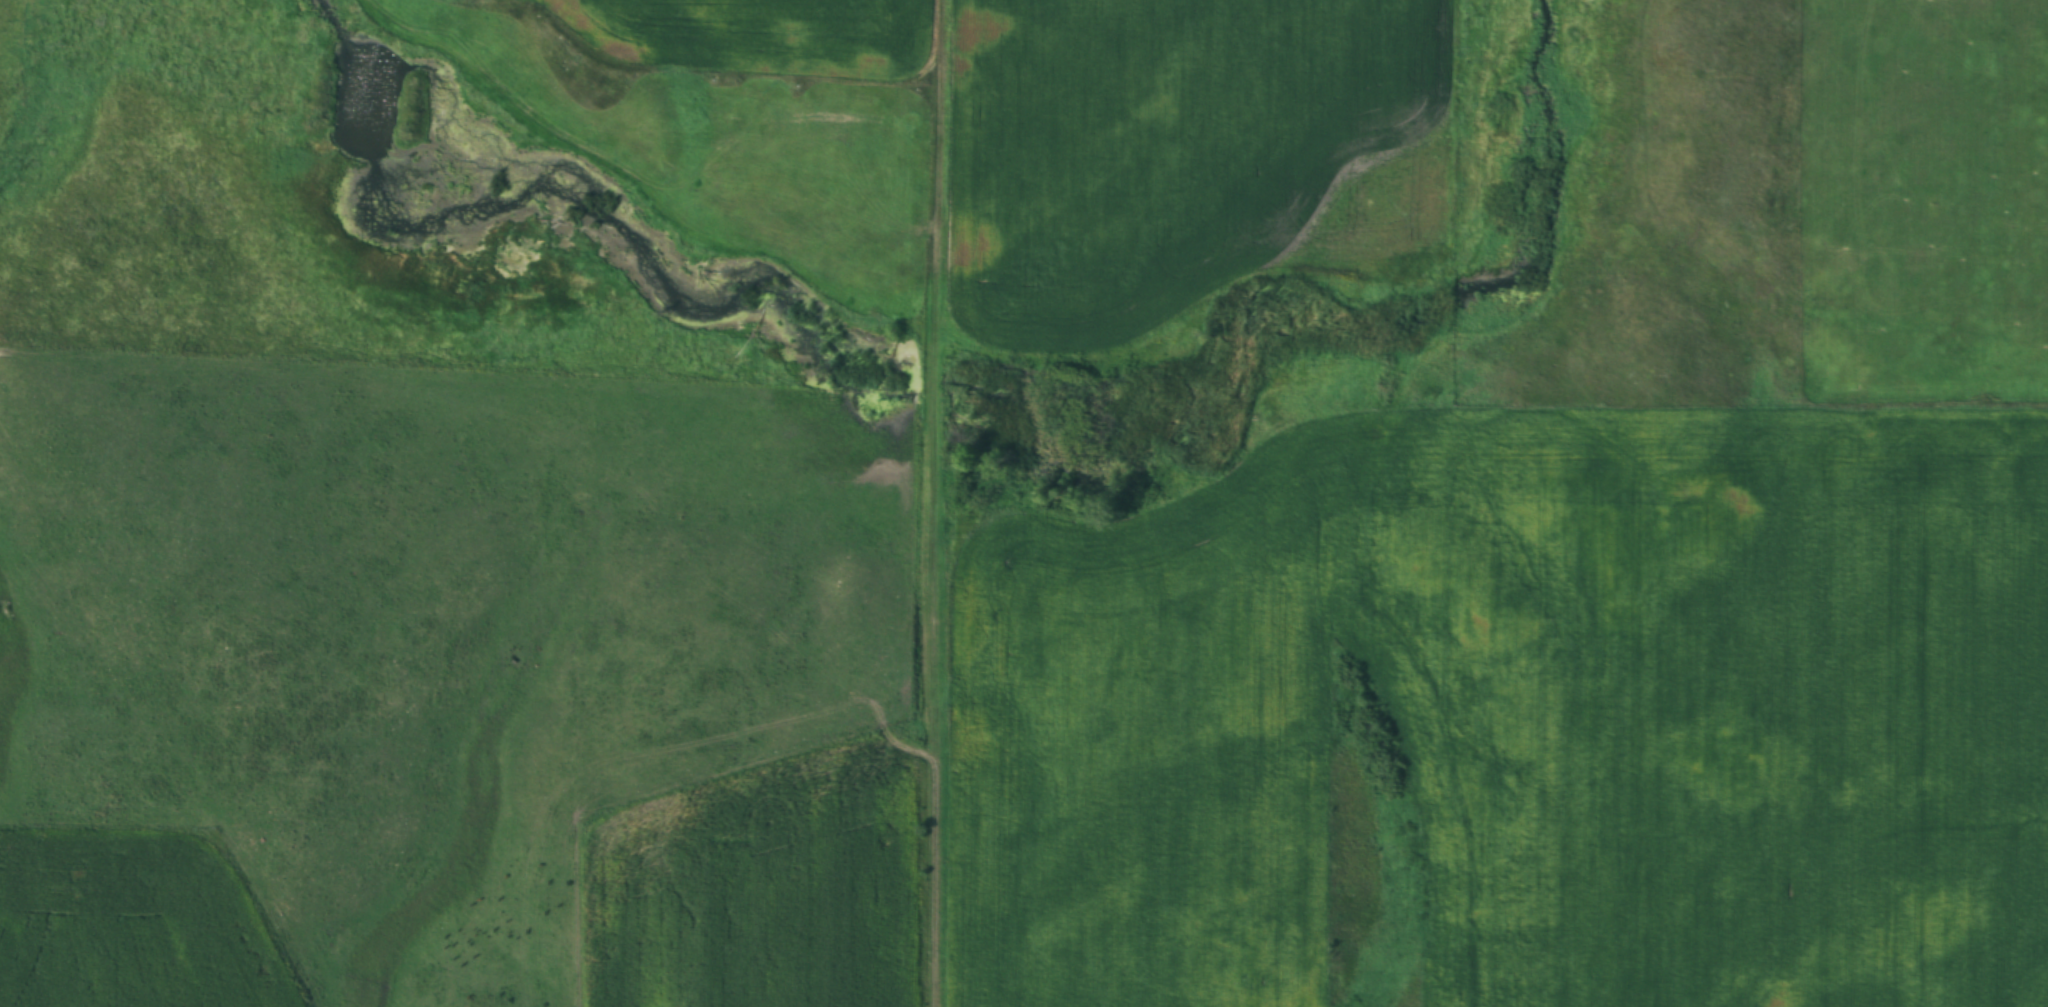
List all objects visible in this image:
road: (957, 503)

